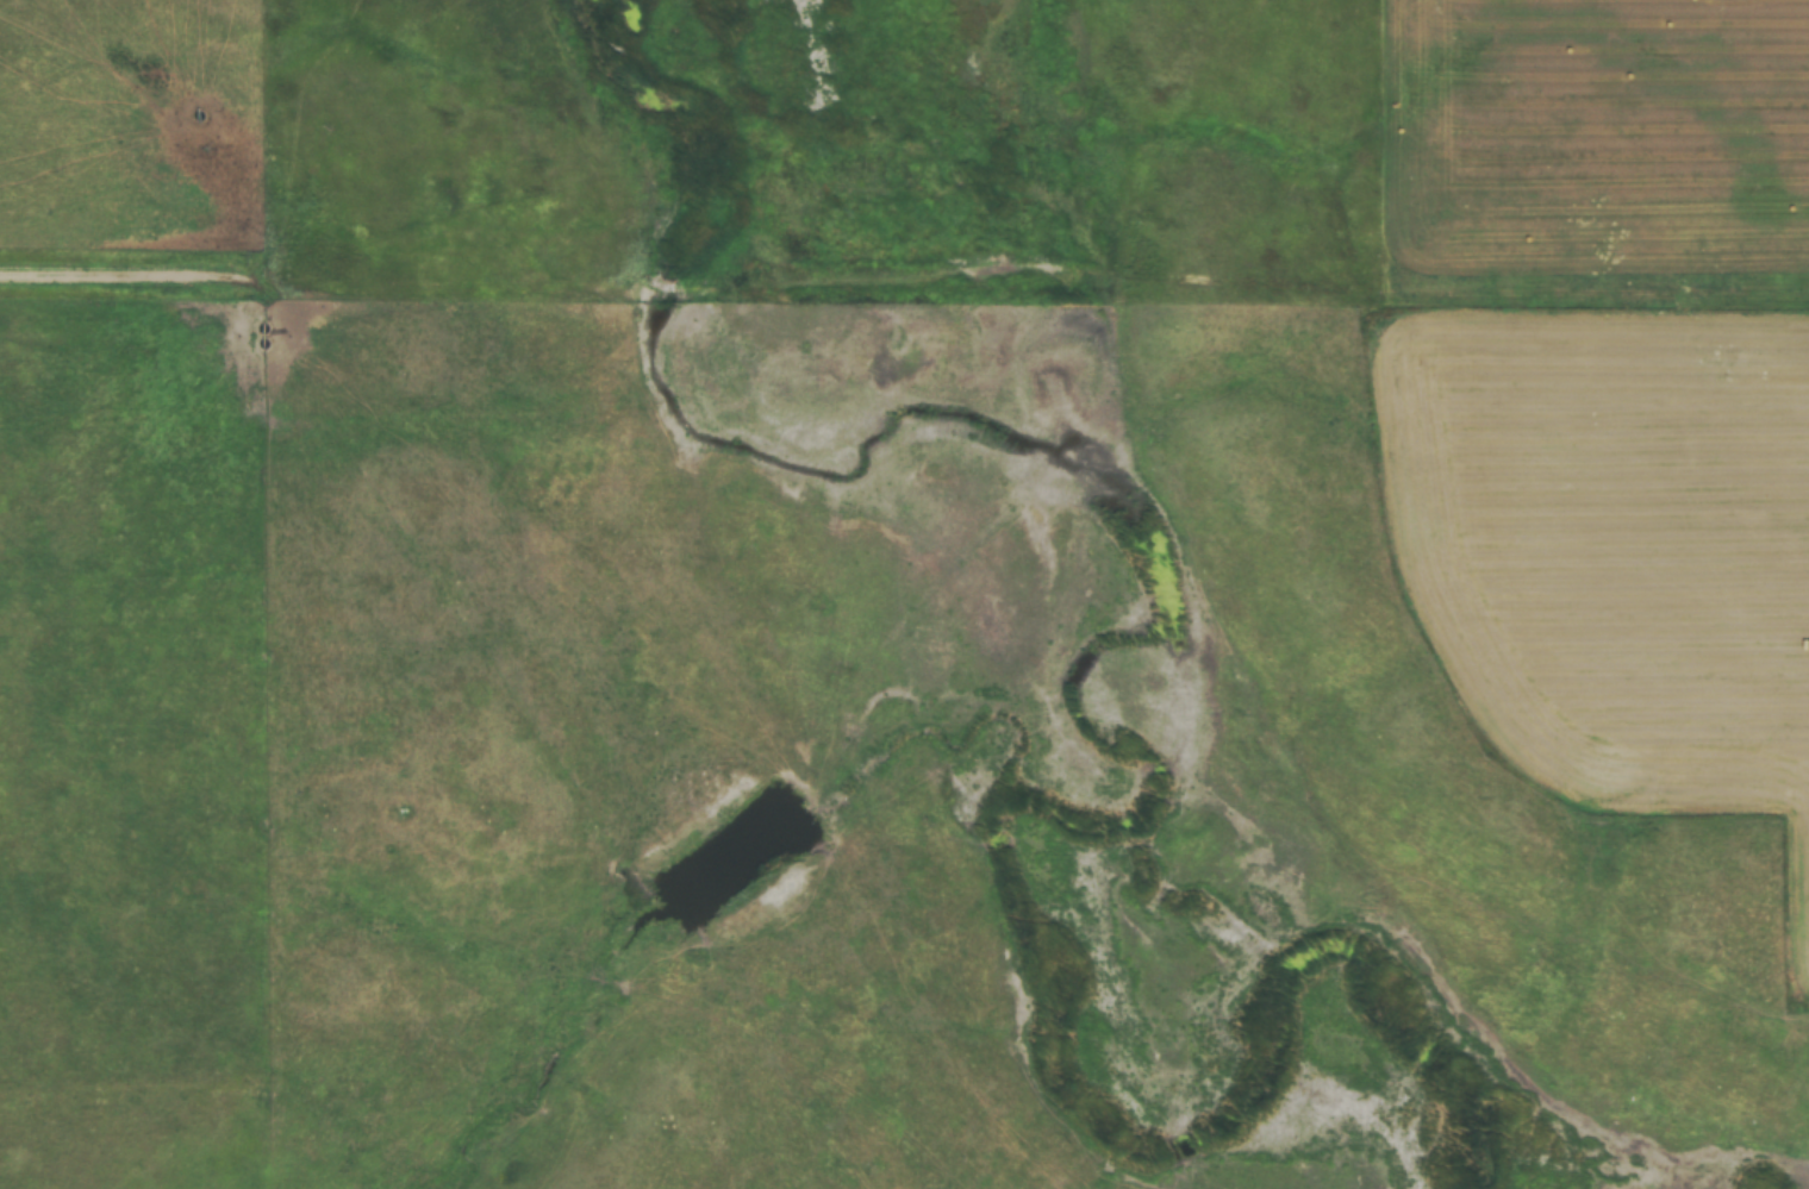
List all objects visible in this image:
road: (904, 361)

